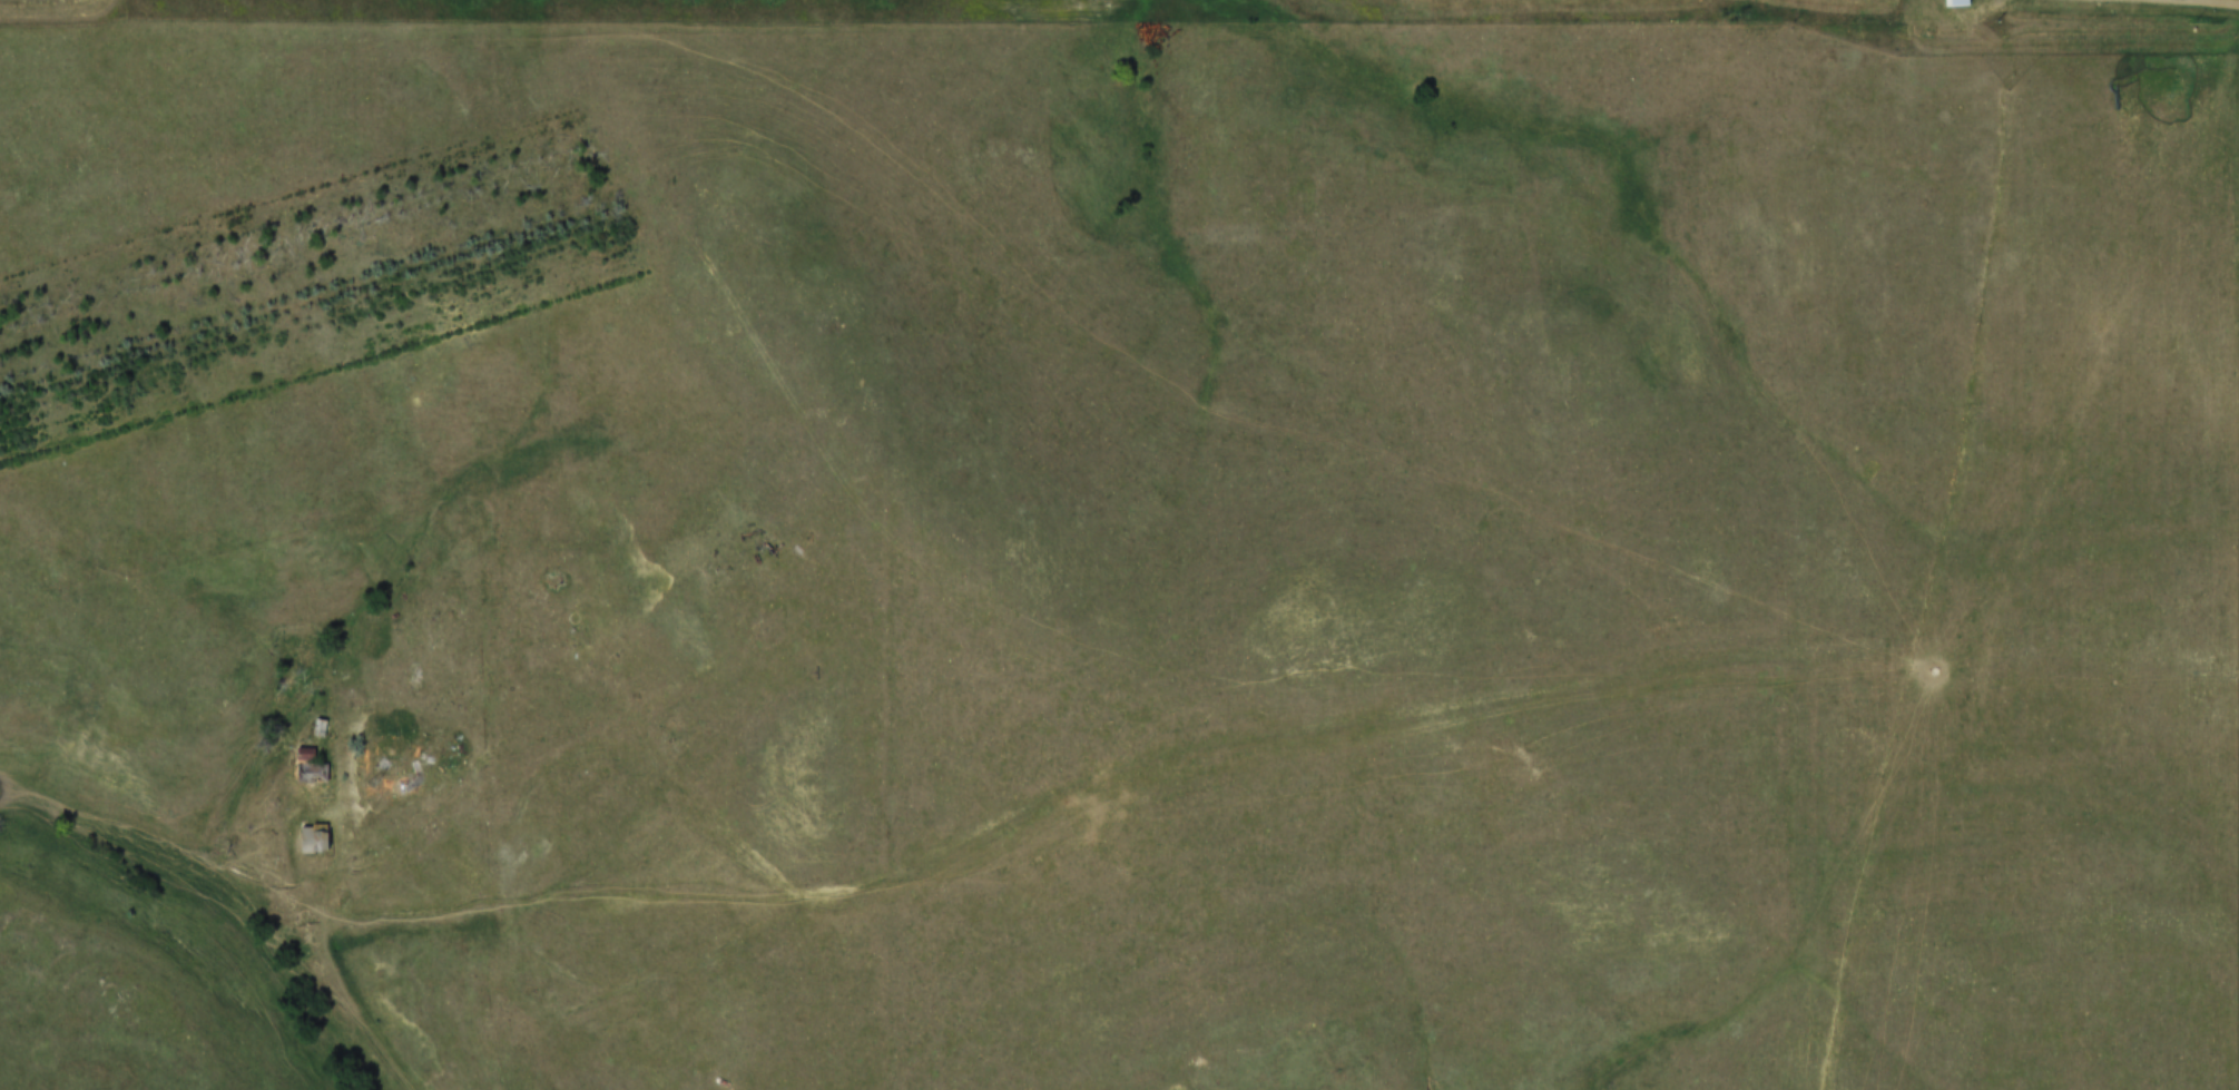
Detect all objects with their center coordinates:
road: (2218, 0)
building: (1951, 3)
road: (847, 480)
building: (311, 720)
building: (302, 762)
building: (401, 779)
building: (405, 785)
building: (306, 833)

